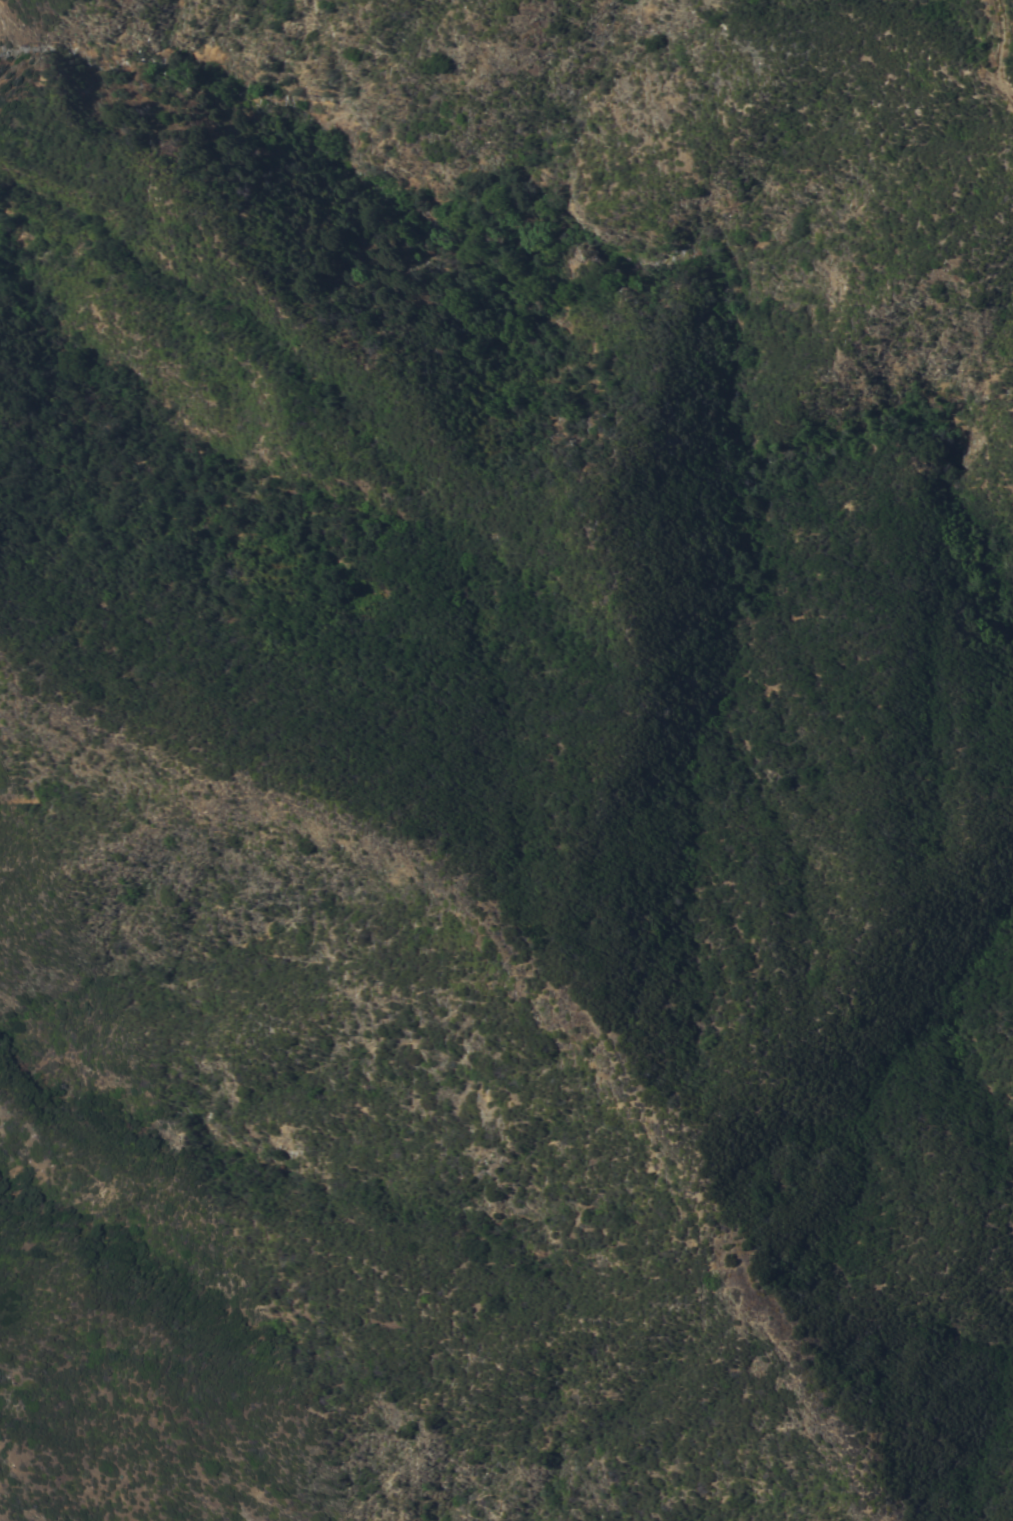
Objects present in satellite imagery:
road: (1002, 52)

